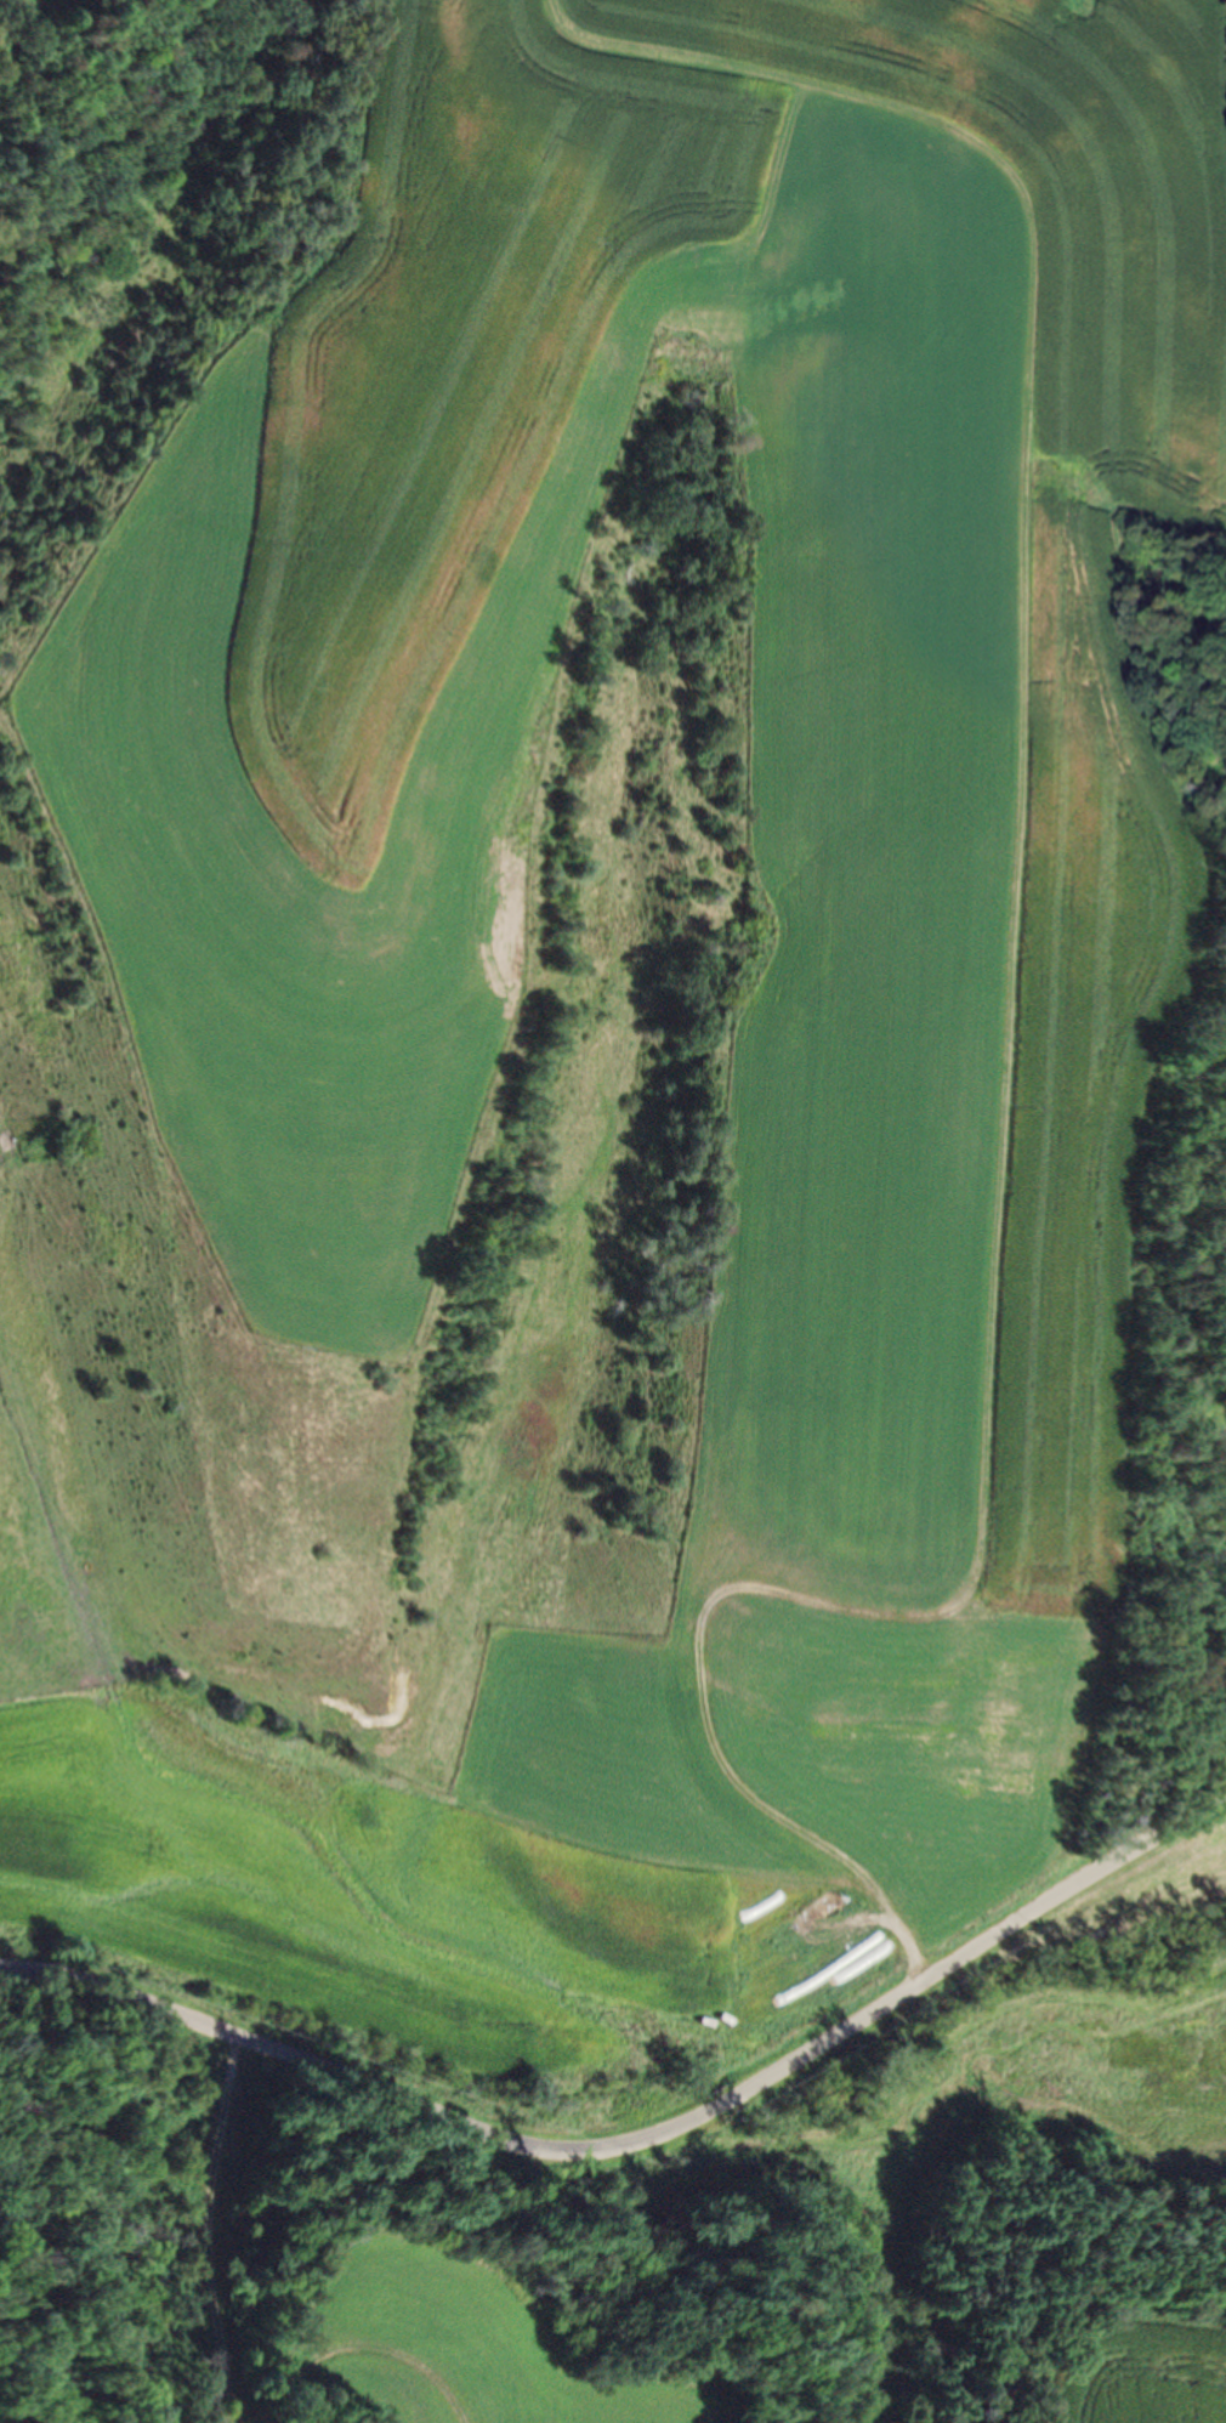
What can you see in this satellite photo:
road: (642, 2139)

